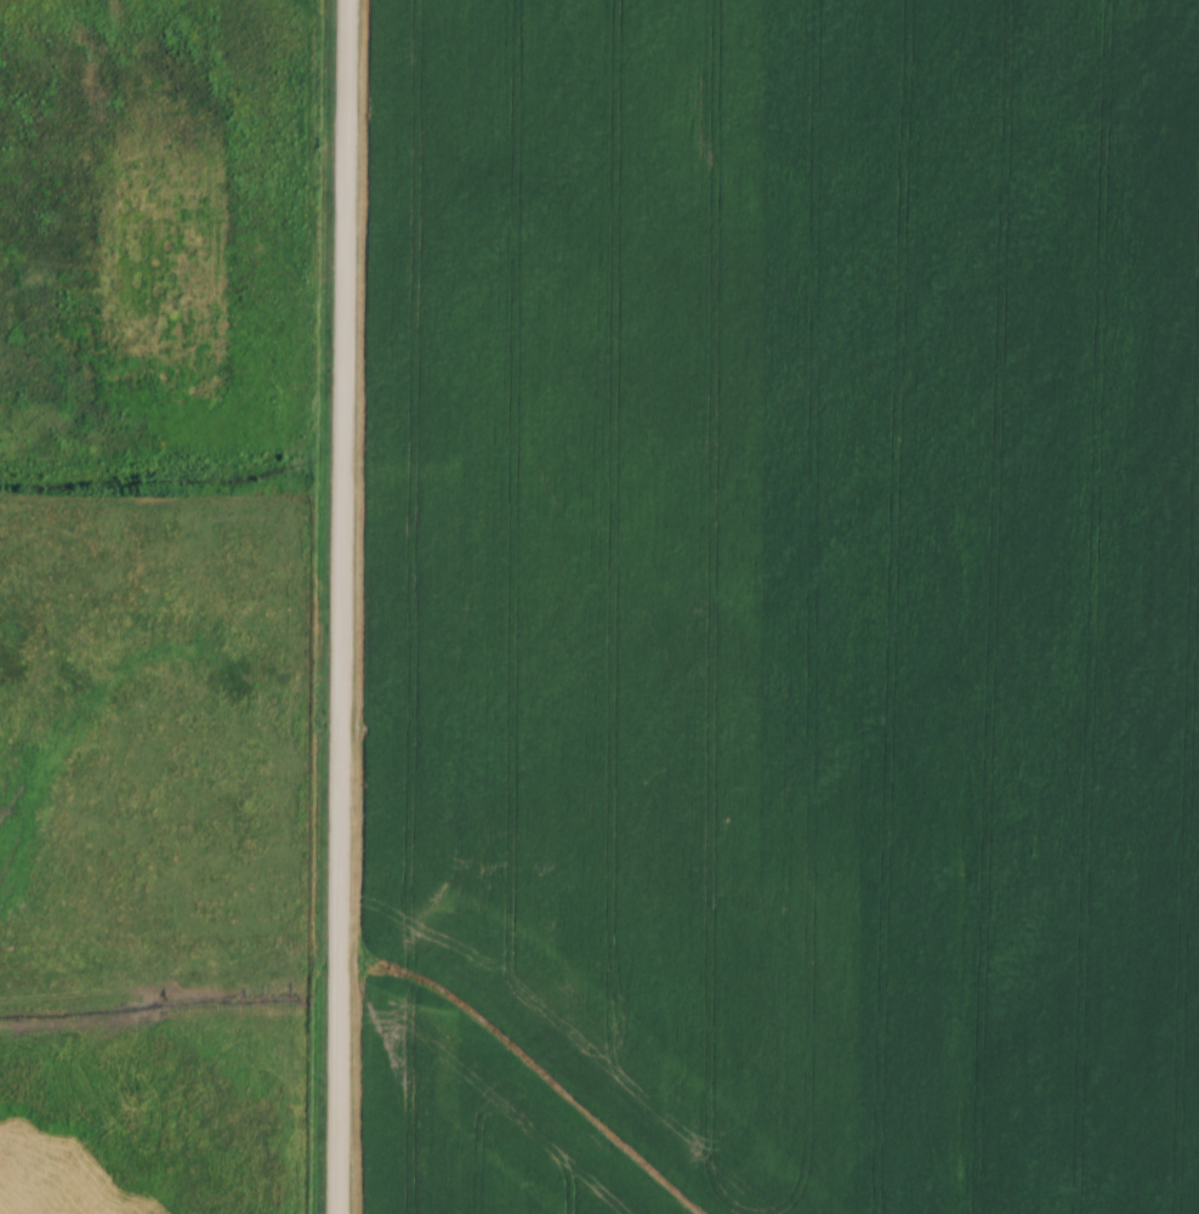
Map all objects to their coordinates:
road: (343, 607)

